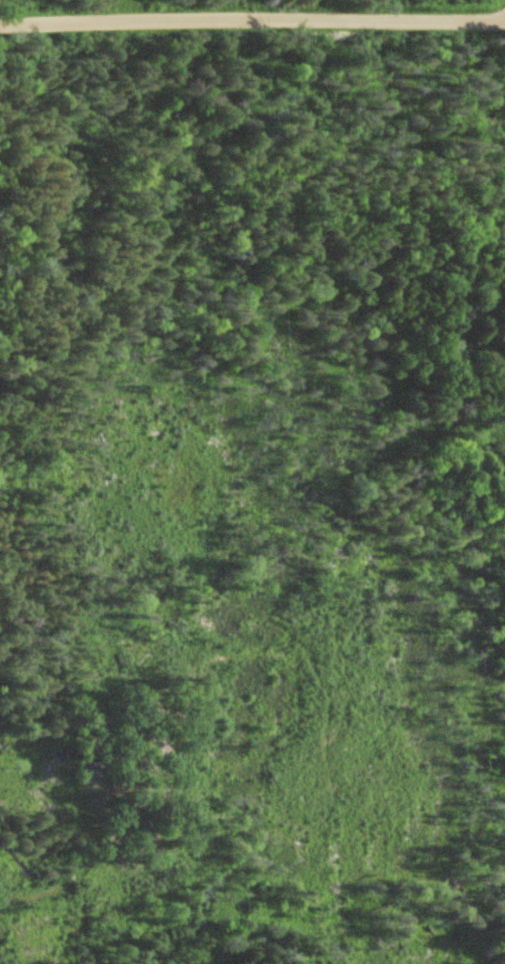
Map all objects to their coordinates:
road: (252, 21)

